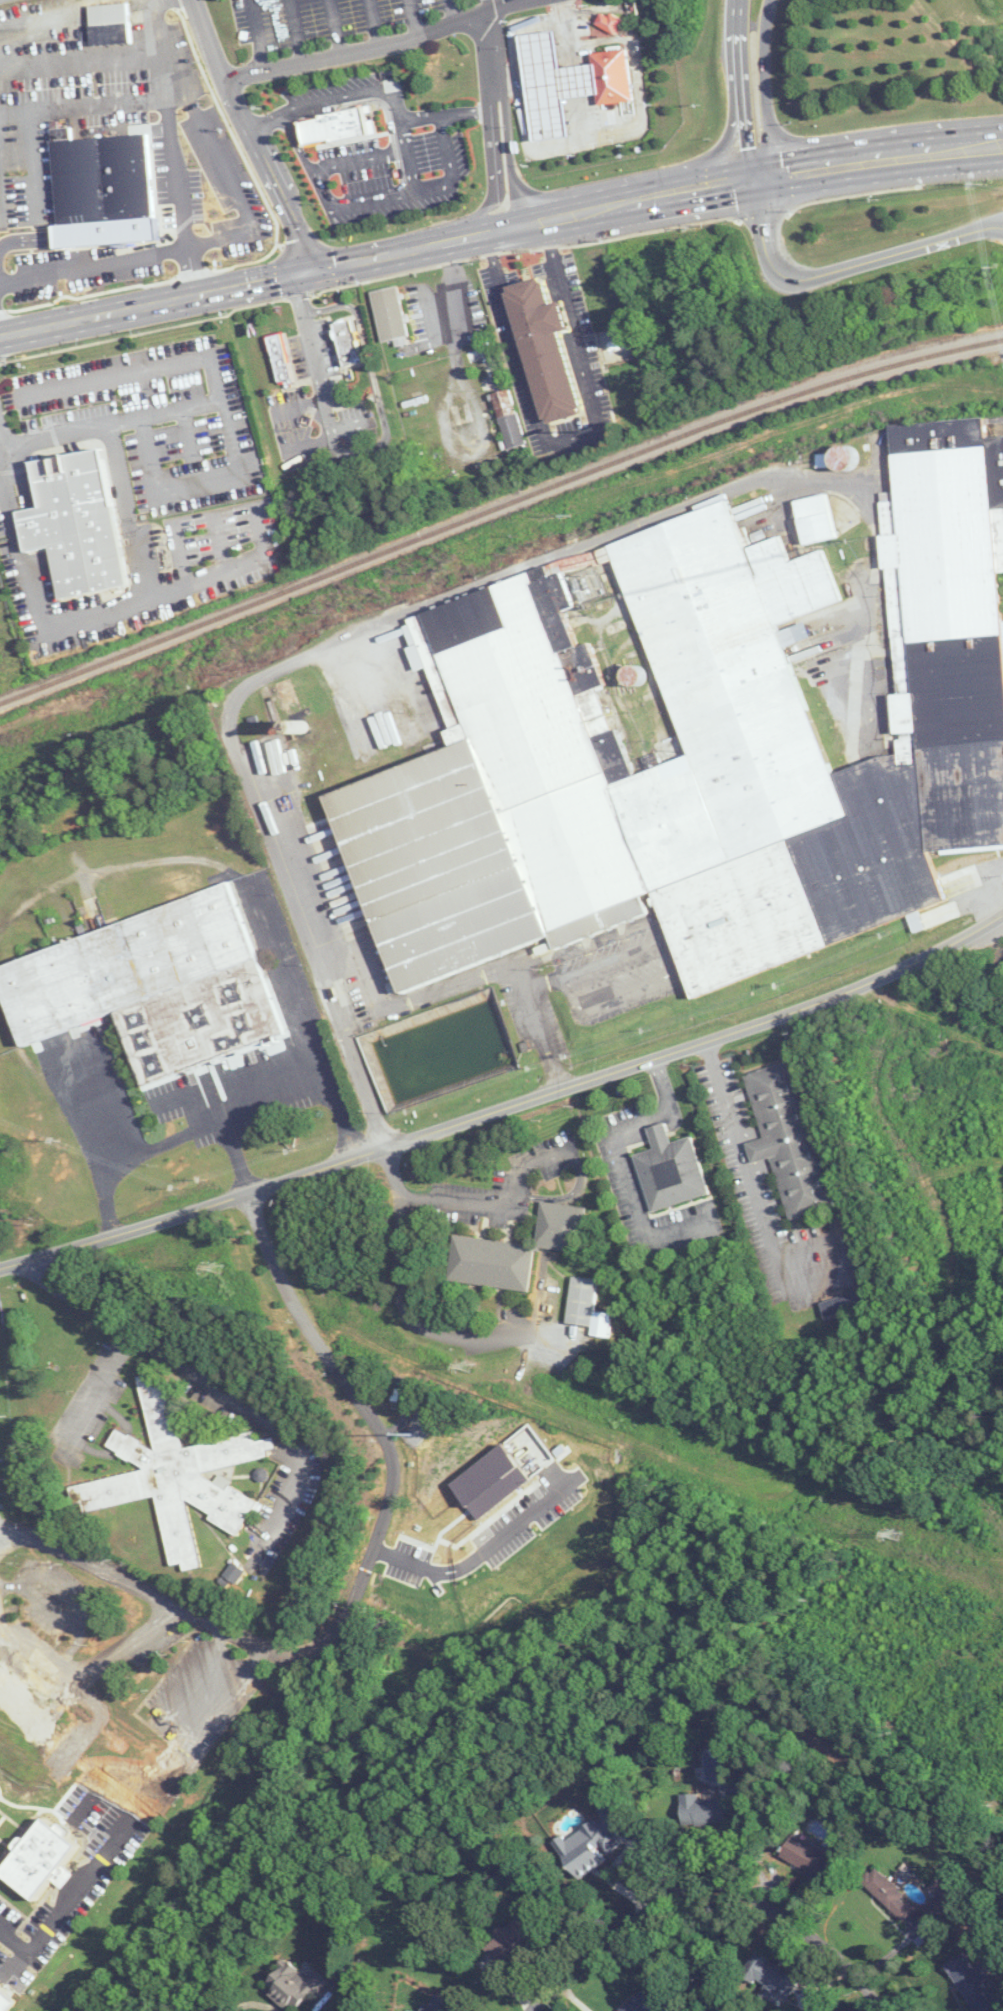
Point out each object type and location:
road: (528, 0)
road: (489, 5)
road: (453, 9)
road: (413, 16)
road: (153, 22)
building: (607, 22)
road: (376, 23)
building: (109, 28)
road: (336, 28)
road: (296, 32)
road: (570, 32)
road: (257, 35)
road: (360, 51)
road: (75, 55)
road: (636, 78)
road: (507, 81)
building: (611, 81)
building: (392, 85)
road: (520, 85)
building: (552, 87)
road: (765, 88)
road: (744, 89)
road: (345, 95)
road: (496, 96)
road: (157, 99)
road: (194, 109)
road: (448, 113)
road: (262, 121)
road: (578, 126)
road: (730, 127)
building: (336, 131)
road: (252, 134)
road: (831, 146)
road: (360, 158)
road: (308, 159)
road: (880, 160)
road: (450, 167)
traffic signals: (759, 178)
building: (102, 190)
road: (410, 191)
building: (223, 198)
road: (236, 232)
road: (378, 253)
road: (556, 258)
road: (94, 265)
traffic signals: (312, 267)
road: (843, 269)
road: (194, 271)
road: (452, 288)
road: (570, 313)
building: (389, 316)
road: (309, 343)
building: (350, 345)
building: (552, 345)
building: (282, 360)
building: (486, 368)
road: (219, 400)
road: (538, 408)
building: (508, 419)
road: (482, 445)
building: (847, 459)
storage tank: (847, 459)
road: (202, 474)
railway: (497, 508)
building: (817, 522)
building: (81, 526)
road: (507, 573)
road: (96, 609)
building: (8, 667)
building: (631, 674)
building: (286, 698)
building: (713, 740)
road: (251, 892)
road: (316, 936)
road: (669, 968)
road: (543, 983)
building: (157, 989)
building: (432, 1049)
road: (351, 1055)
road: (507, 1107)
road: (83, 1113)
road: (214, 1122)
building: (786, 1139)
road: (238, 1156)
road: (578, 1163)
road: (624, 1164)
building: (669, 1170)
road: (757, 1198)
road: (462, 1204)
building: (560, 1227)
road: (401, 1261)
building: (490, 1263)
power tower: (211, 1272)
building: (844, 1303)
building: (587, 1307)
road: (516, 1329)
power tower: (459, 1368)
road: (214, 1388)
road: (100, 1393)
road: (388, 1442)
building: (179, 1475)
power tower: (892, 1535)
road: (468, 1564)
road: (222, 1704)
building: (25, 1735)
building: (702, 1810)
building: (1, 1819)
building: (586, 1848)
building: (806, 1856)
building: (46, 1859)
road: (709, 1877)
building: (888, 1894)
building: (935, 1908)
building: (510, 1937)
building: (768, 1978)
building: (971, 1983)
building: (297, 1986)
building: (645, 2002)
building: (444, 2005)

